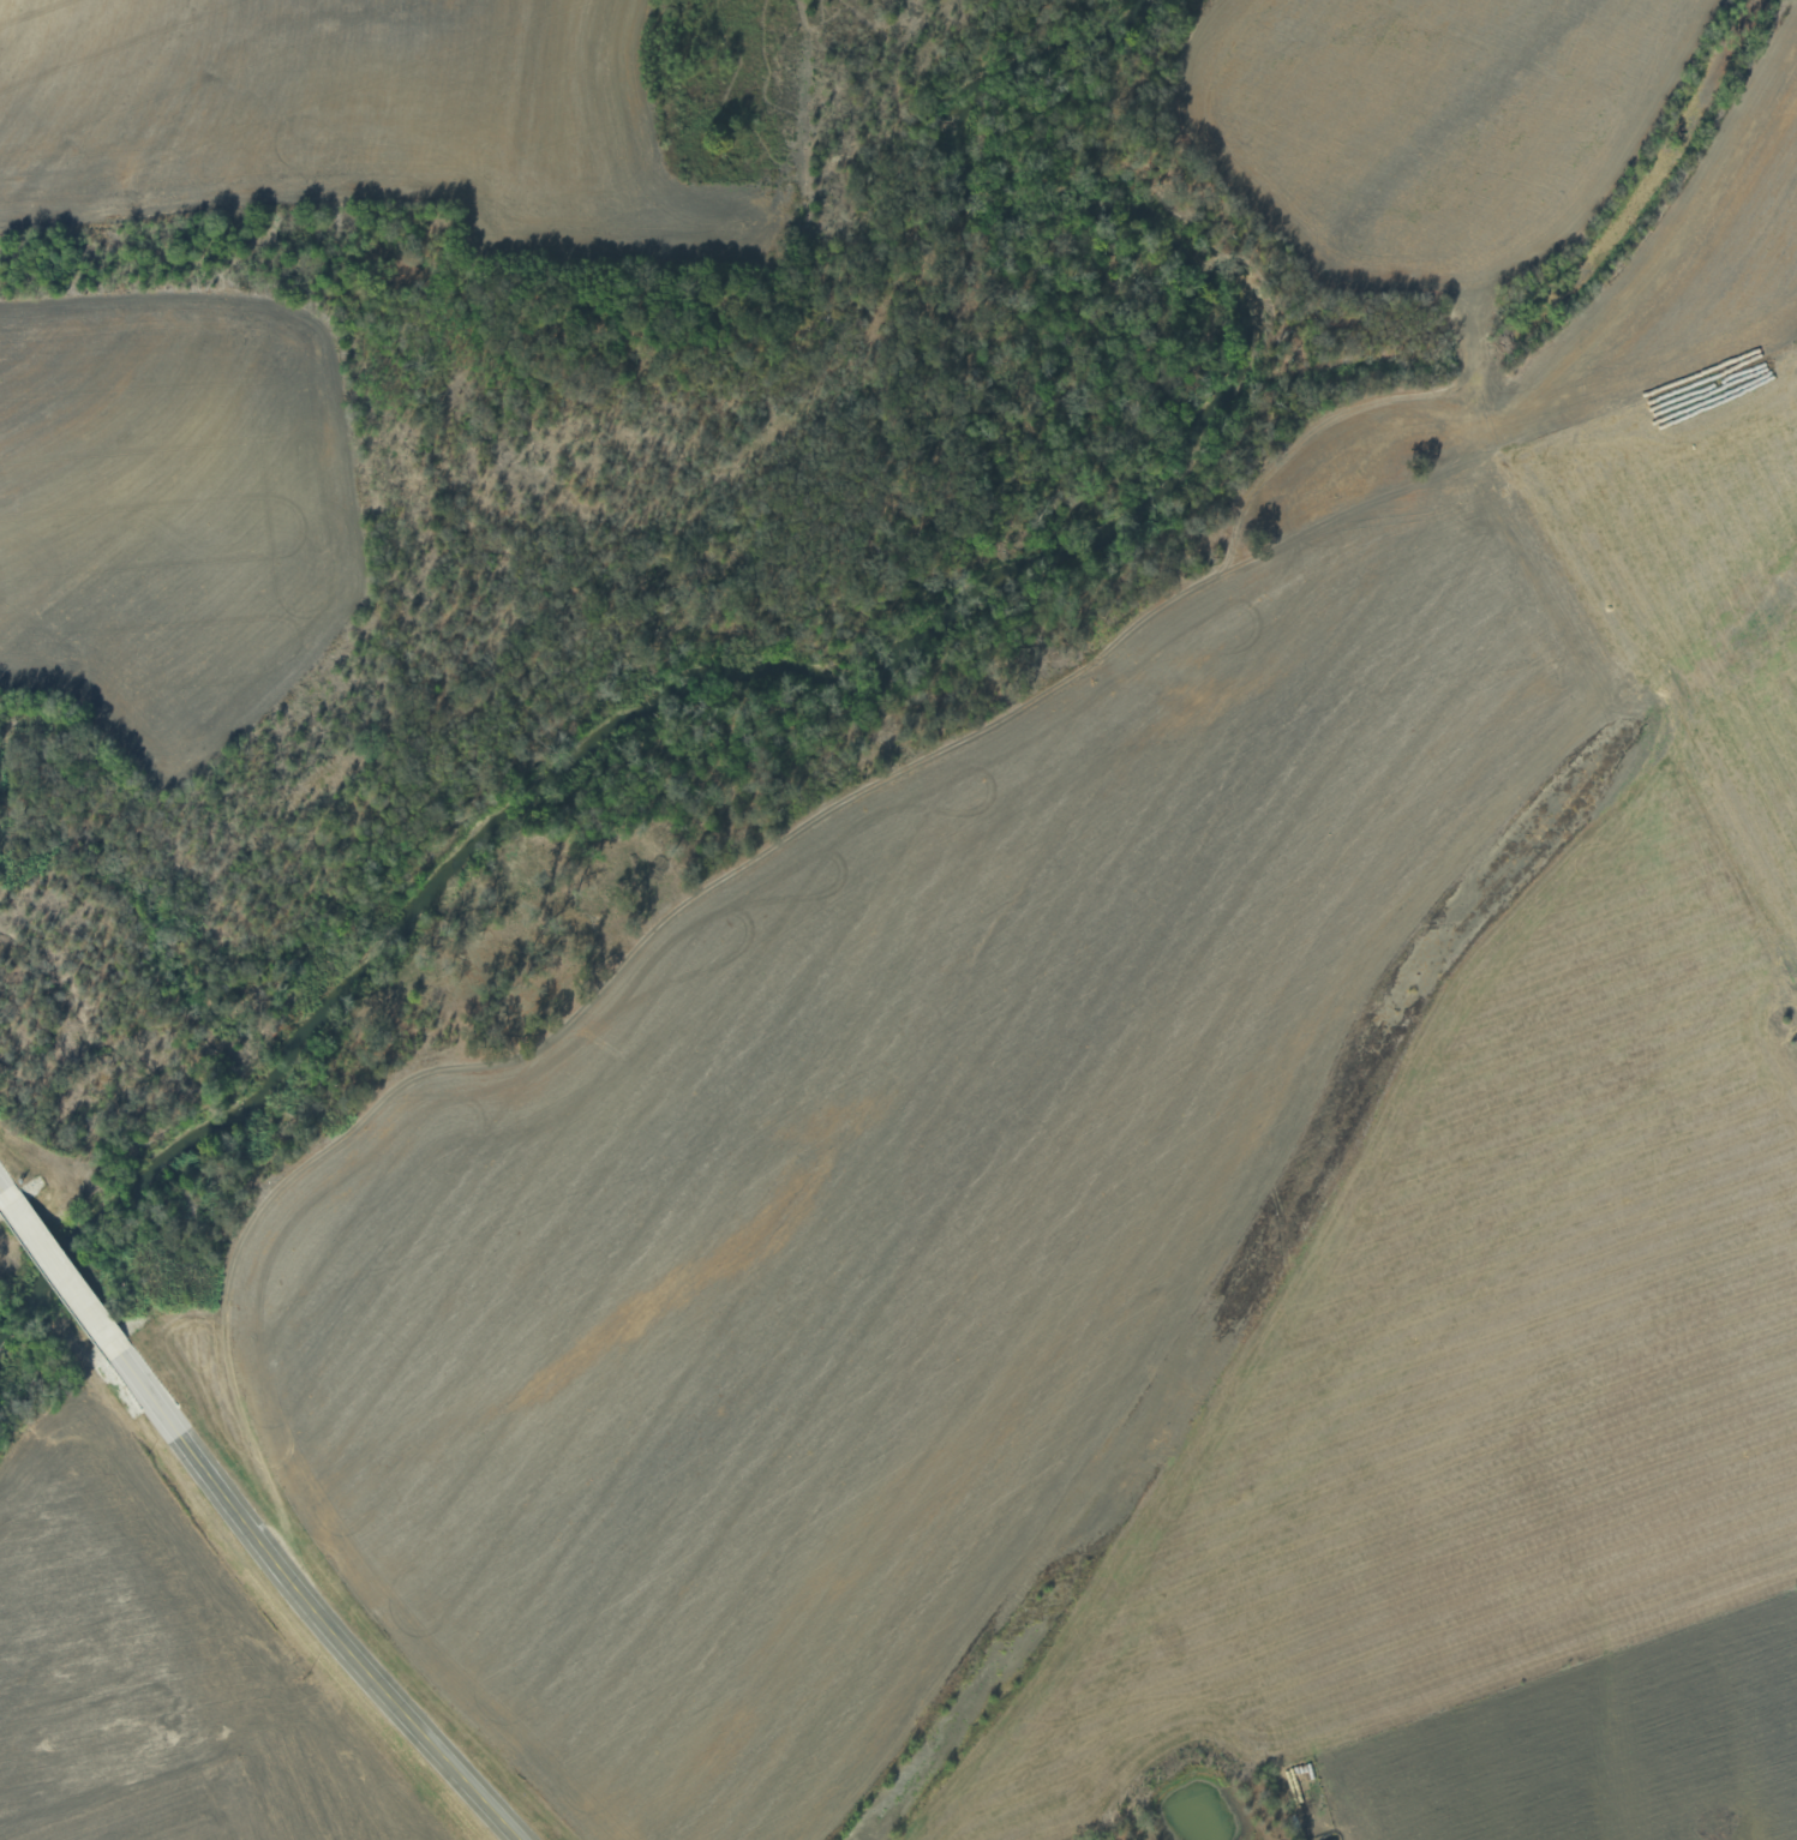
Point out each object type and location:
road: (28, 1223)
road: (64, 1271)
road: (275, 1563)

